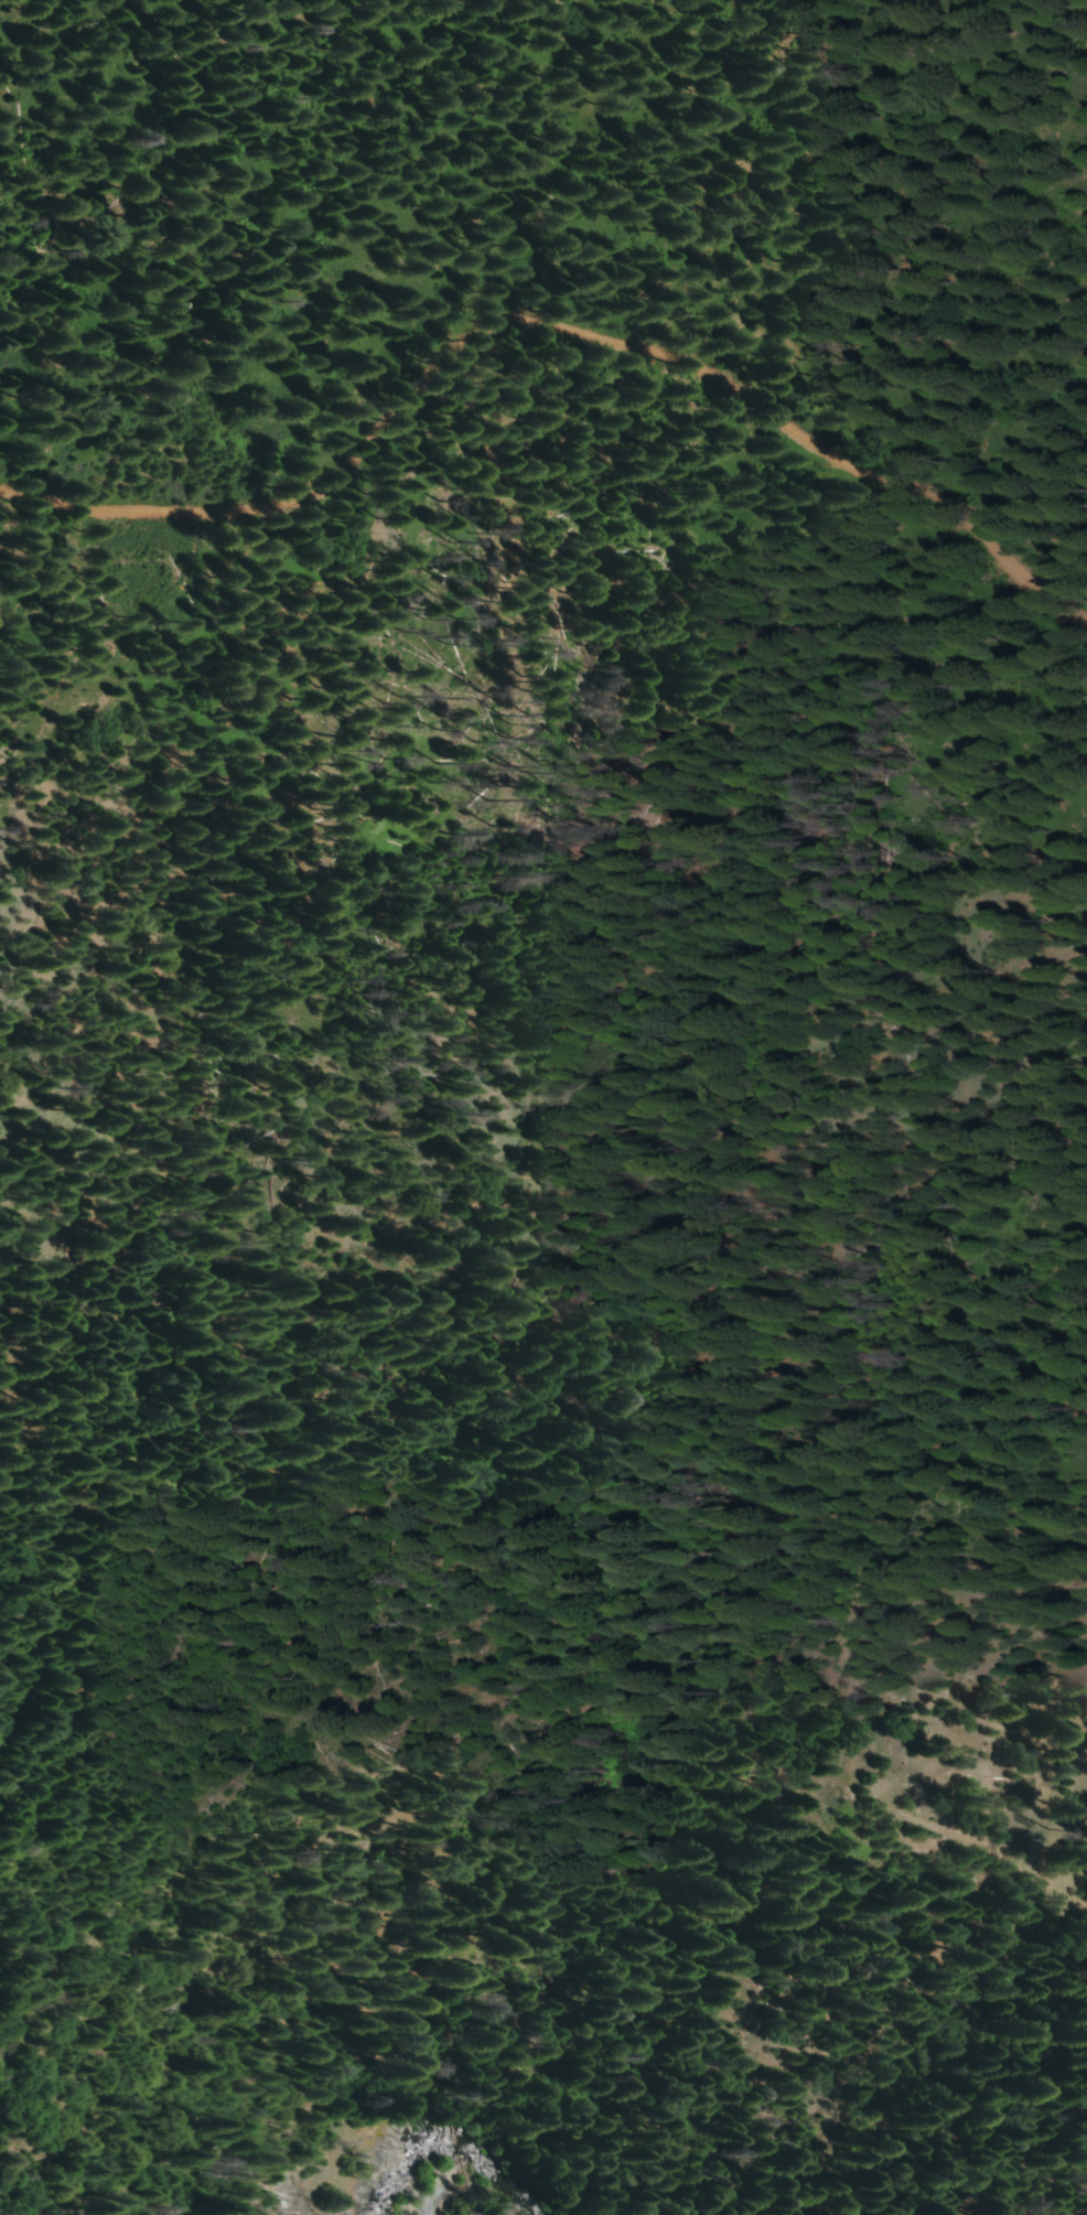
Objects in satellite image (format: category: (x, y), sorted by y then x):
road: (557, 329)
river: (467, 2147)

